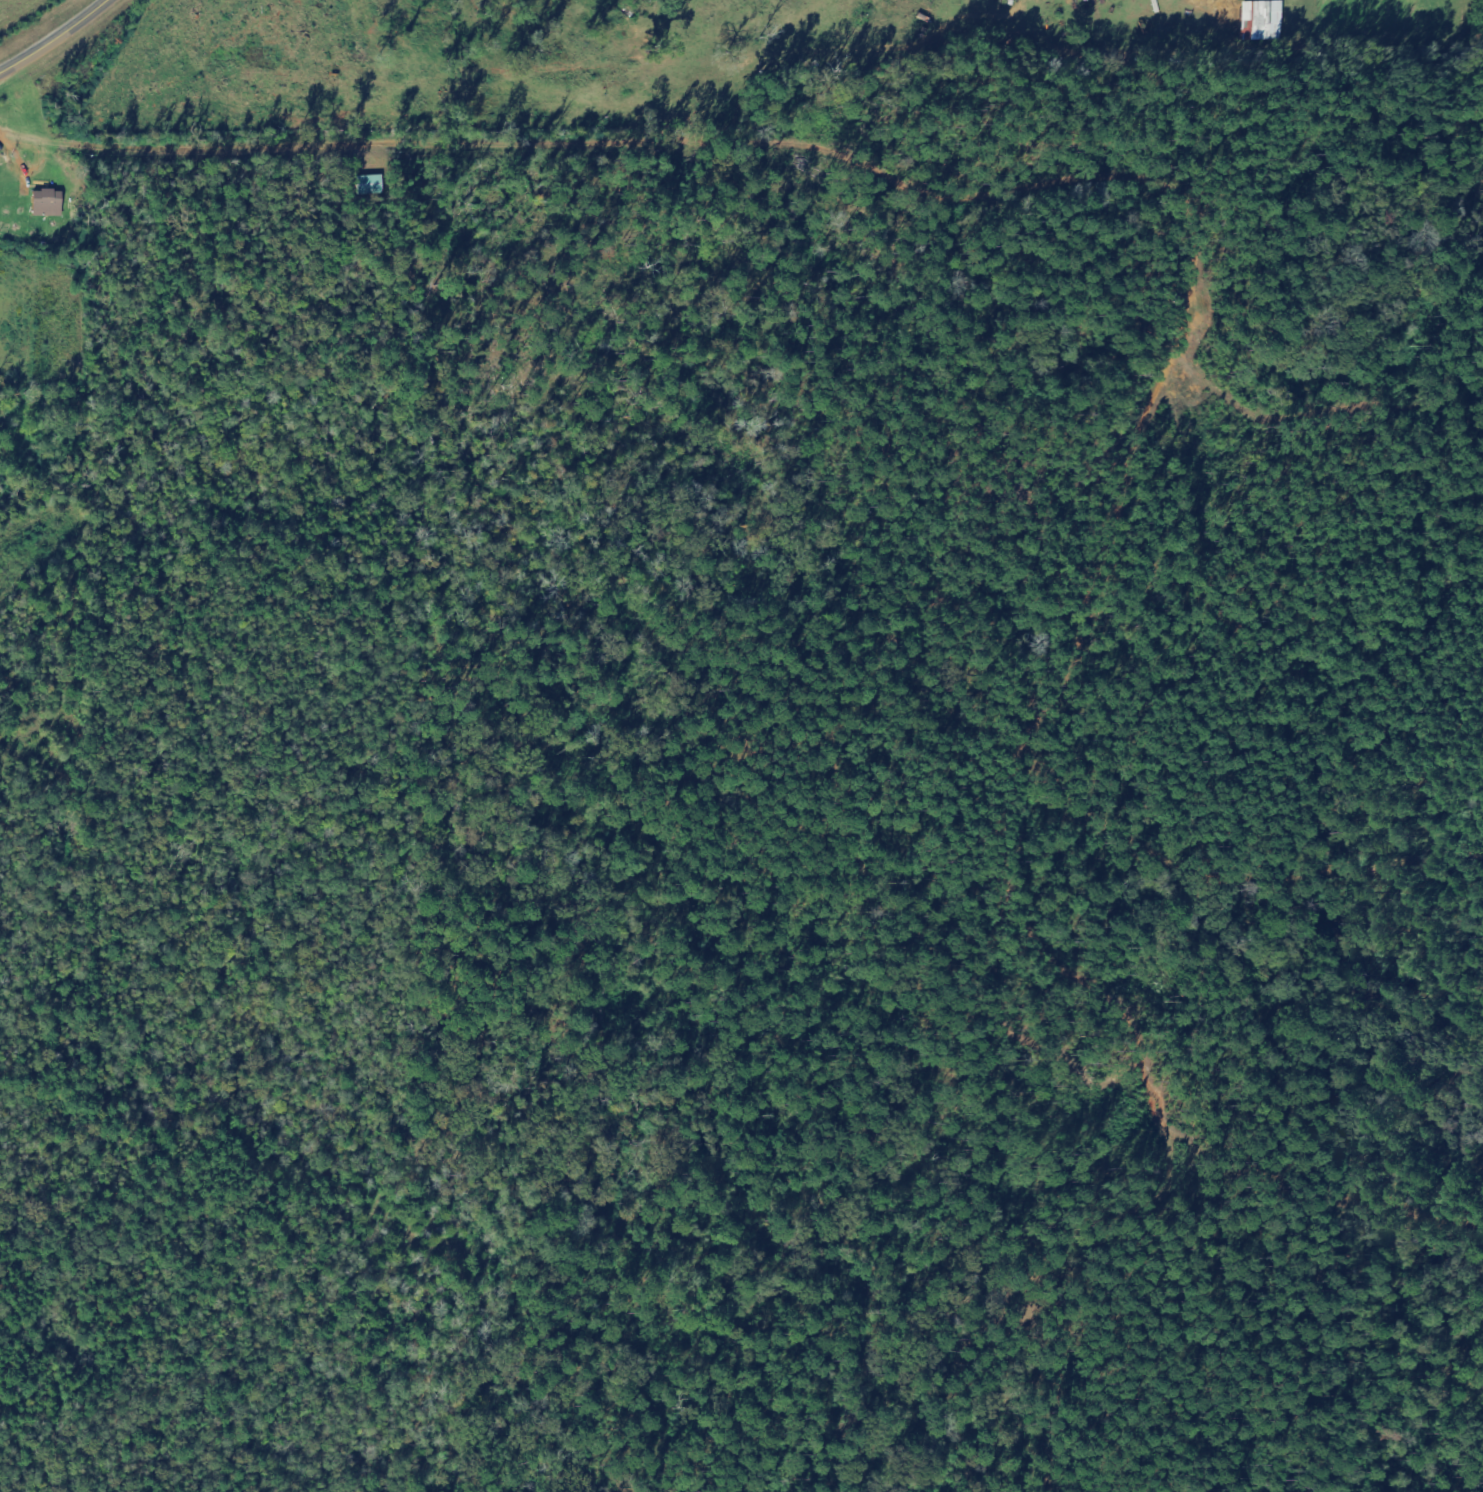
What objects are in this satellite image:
building: (1264, 20)
road: (55, 37)
road: (865, 165)
building: (374, 185)
building: (50, 203)

